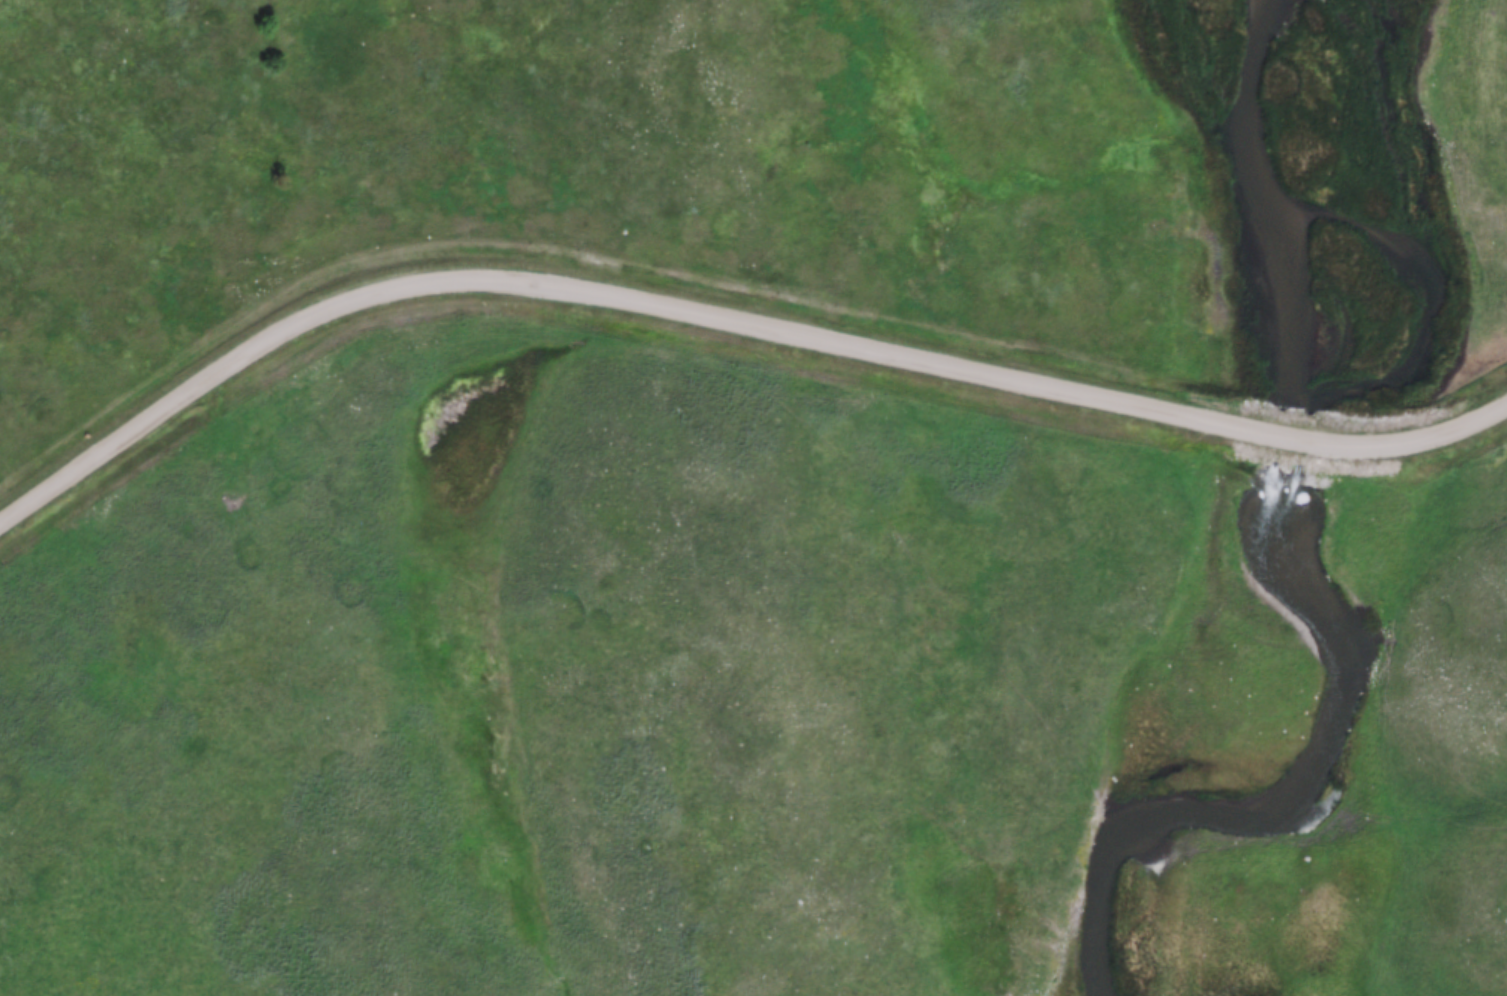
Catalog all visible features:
road: (728, 313)

